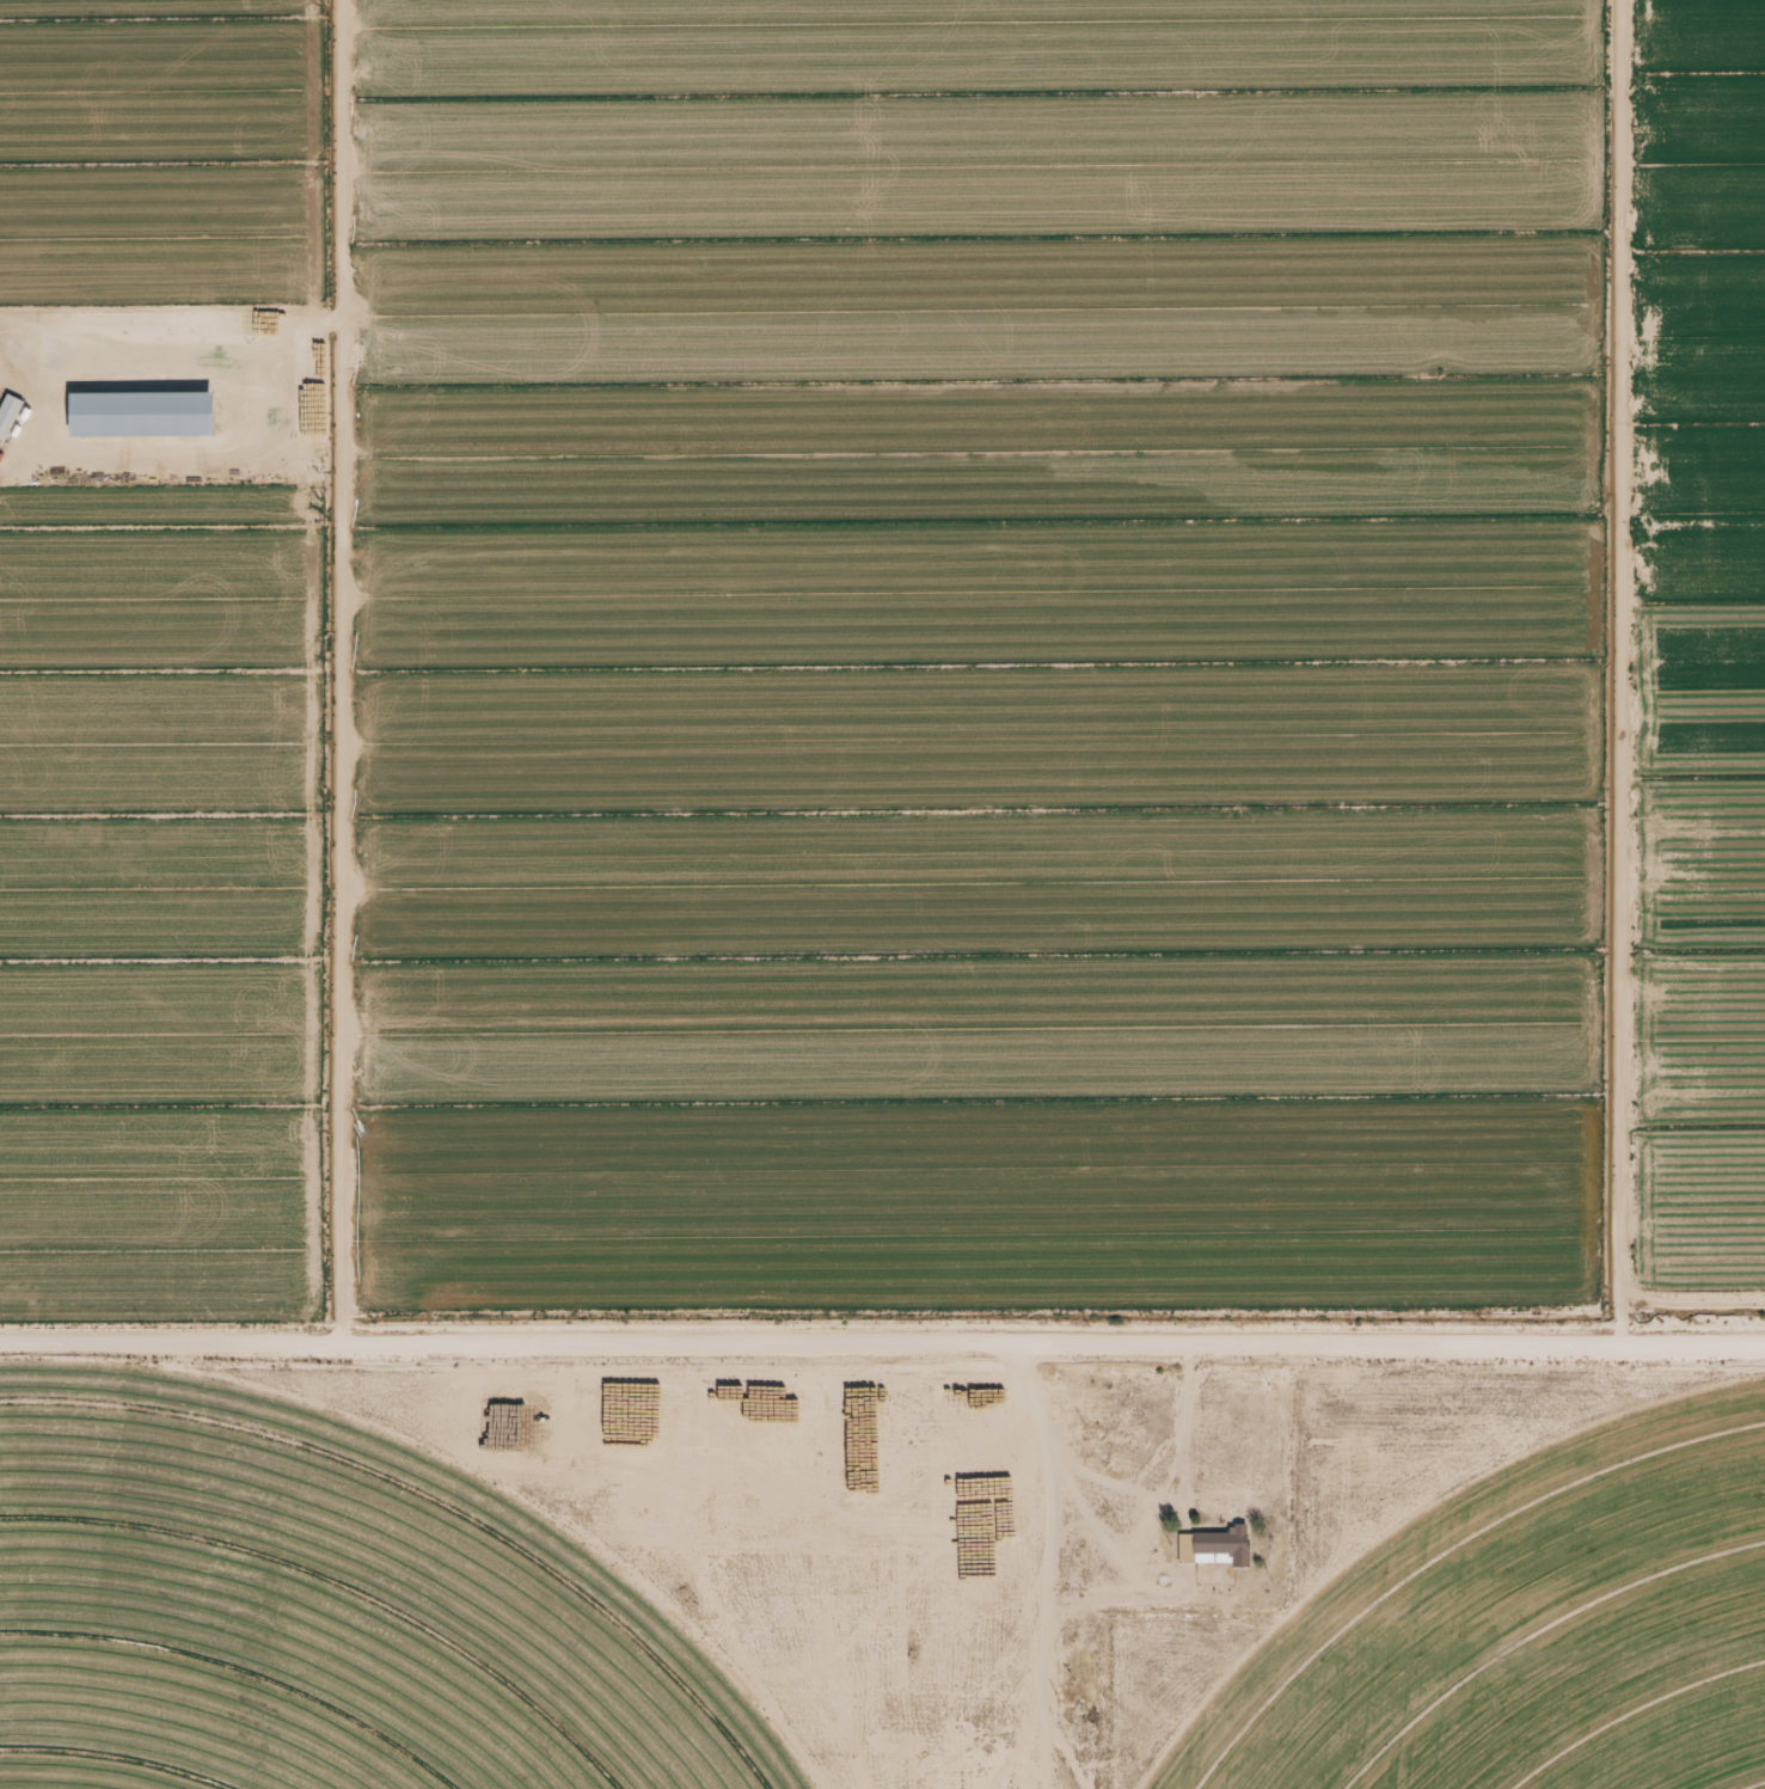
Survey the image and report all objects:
road: (172, 333)
building: (136, 404)
building: (8, 406)
road: (1648, 654)
road: (344, 658)
road: (1714, 1307)
road: (1423, 1310)
road: (765, 1315)
road: (172, 1322)
building: (1107, 1391)
building: (1108, 1438)
building: (1214, 1546)
crop: (1525, 1622)
crop: (307, 1624)

